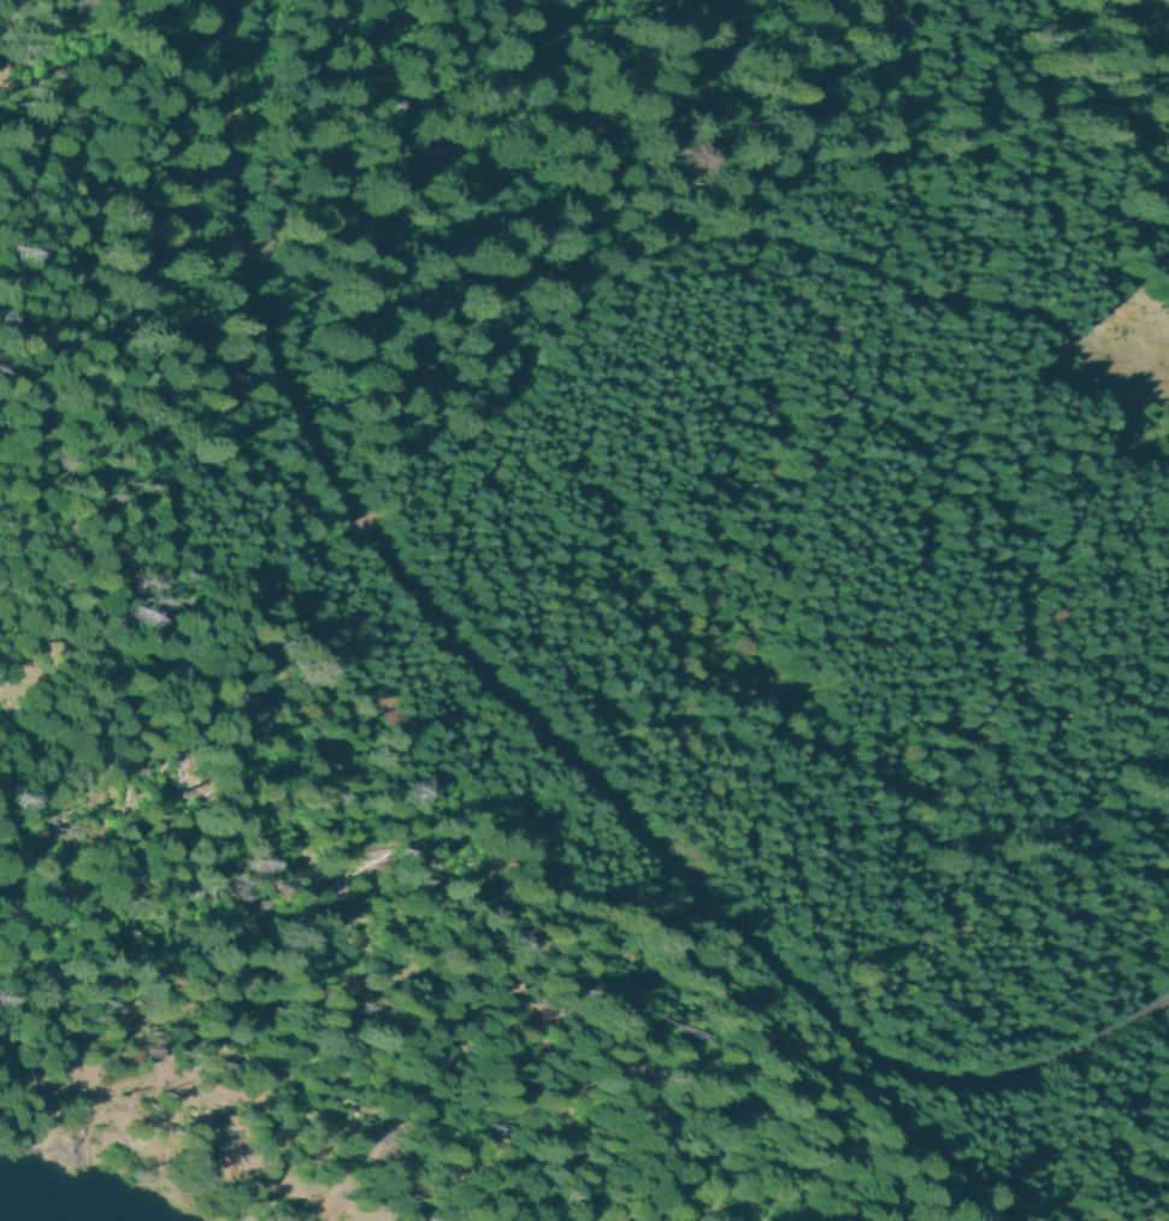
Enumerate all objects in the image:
road: (515, 725)
road: (267, 1083)

